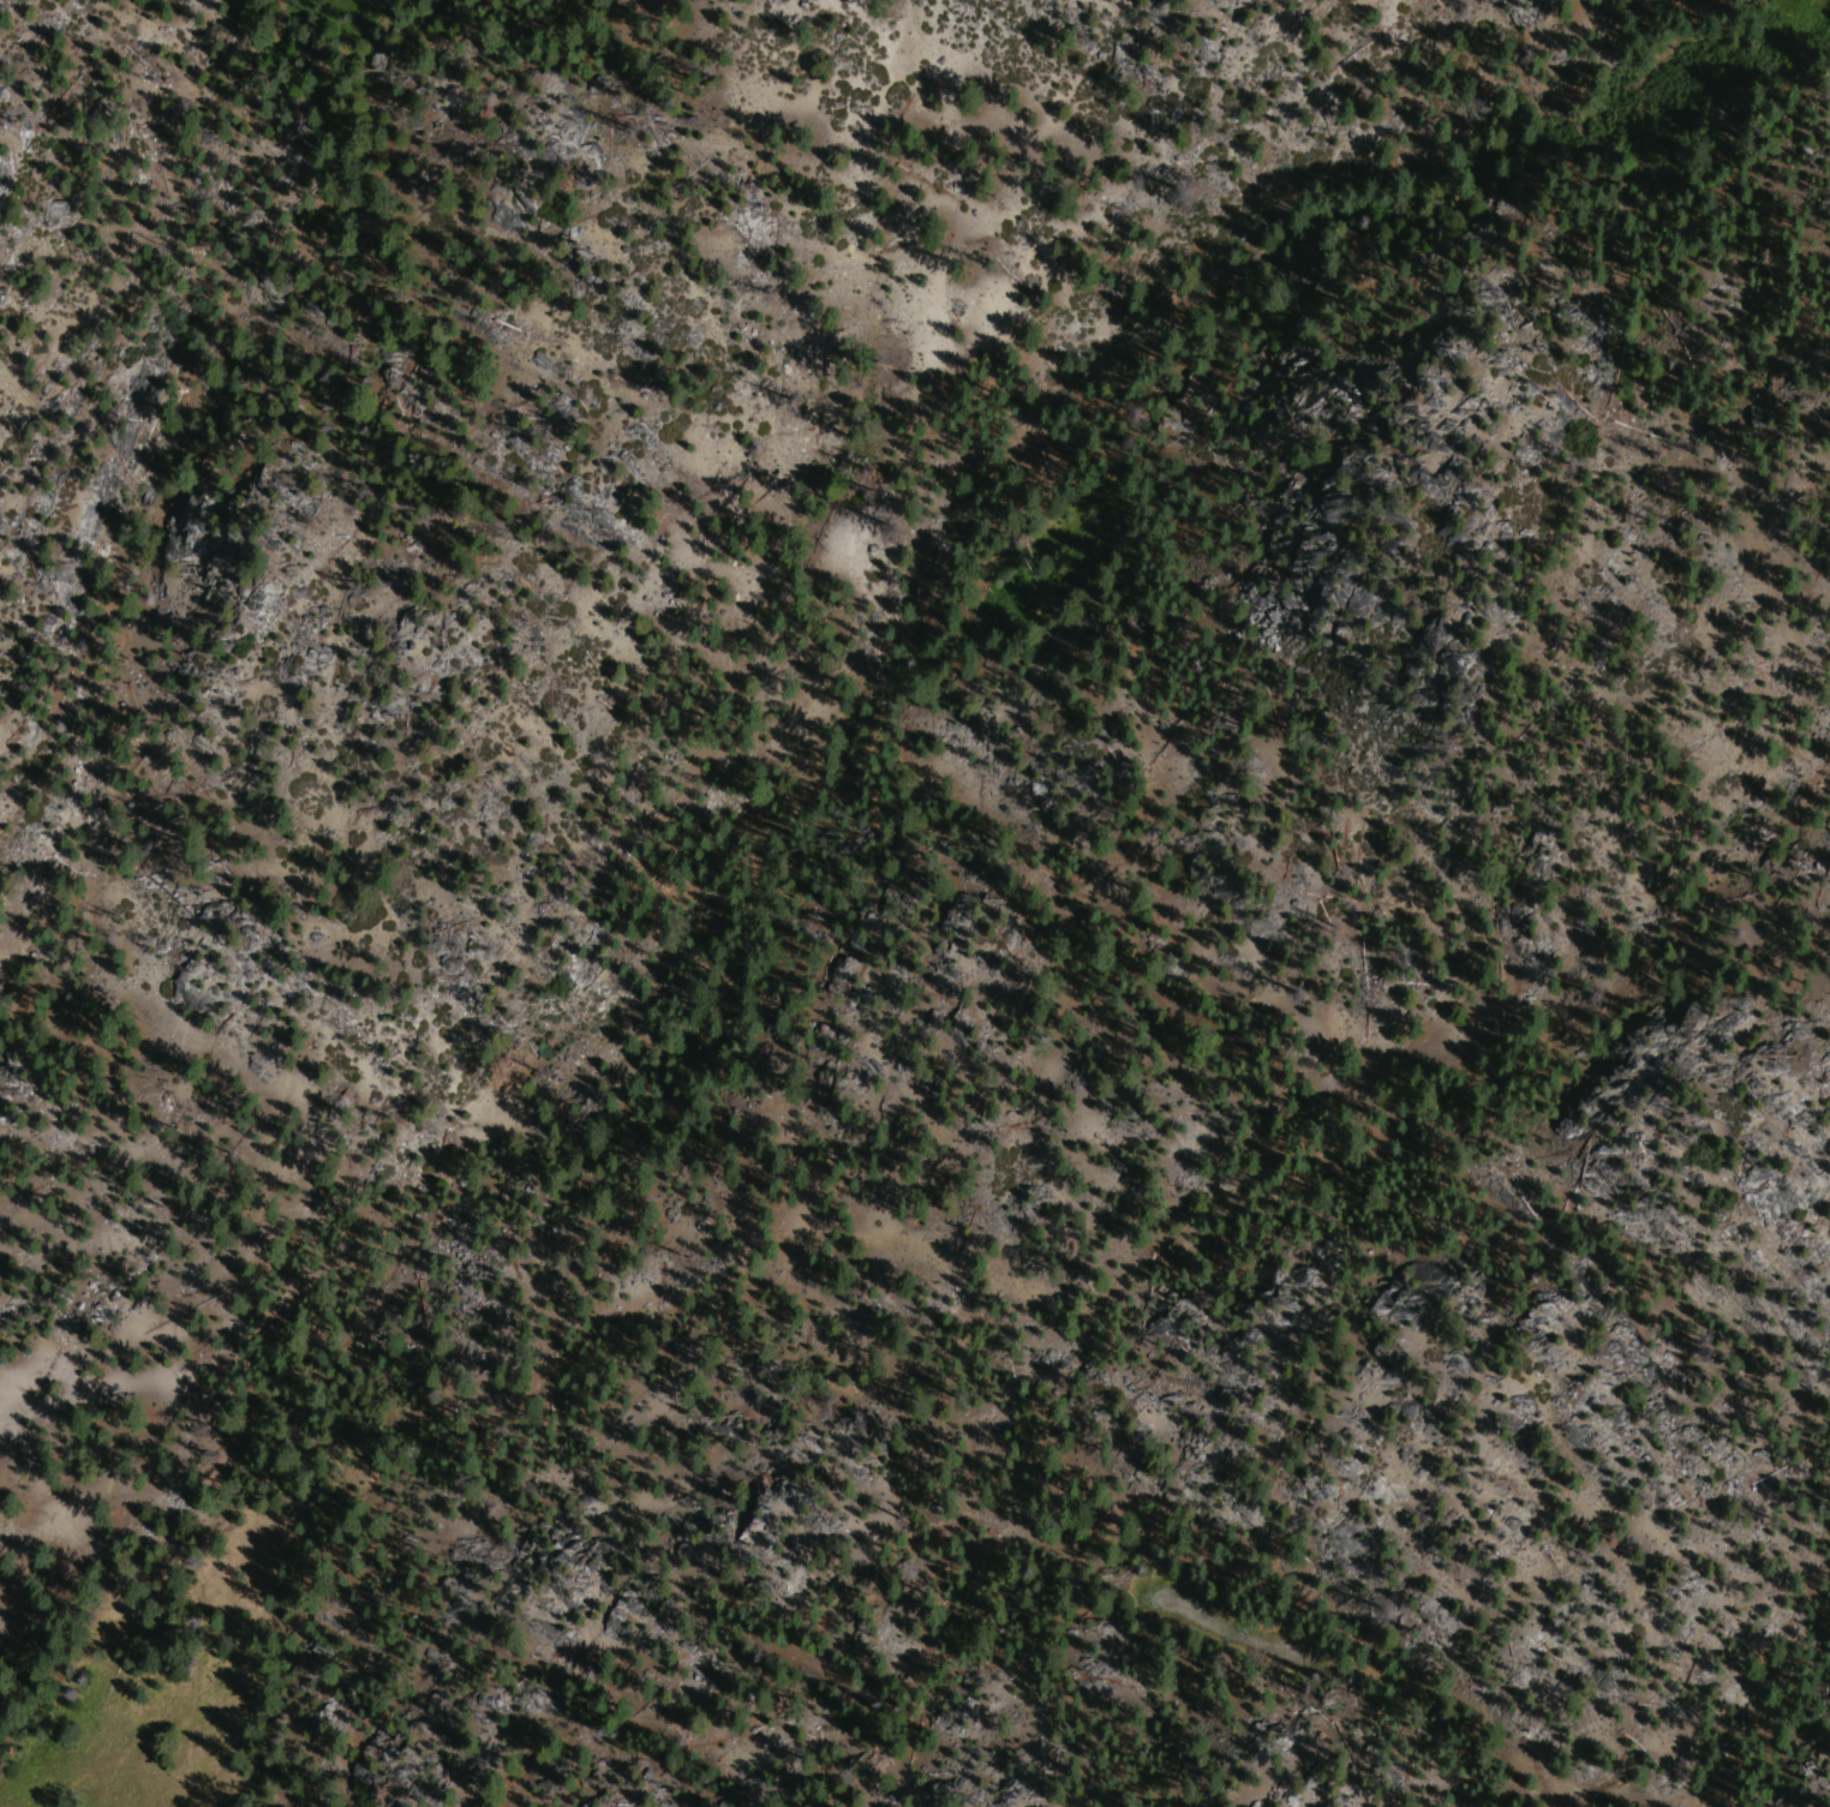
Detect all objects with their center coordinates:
road: (874, 1316)

